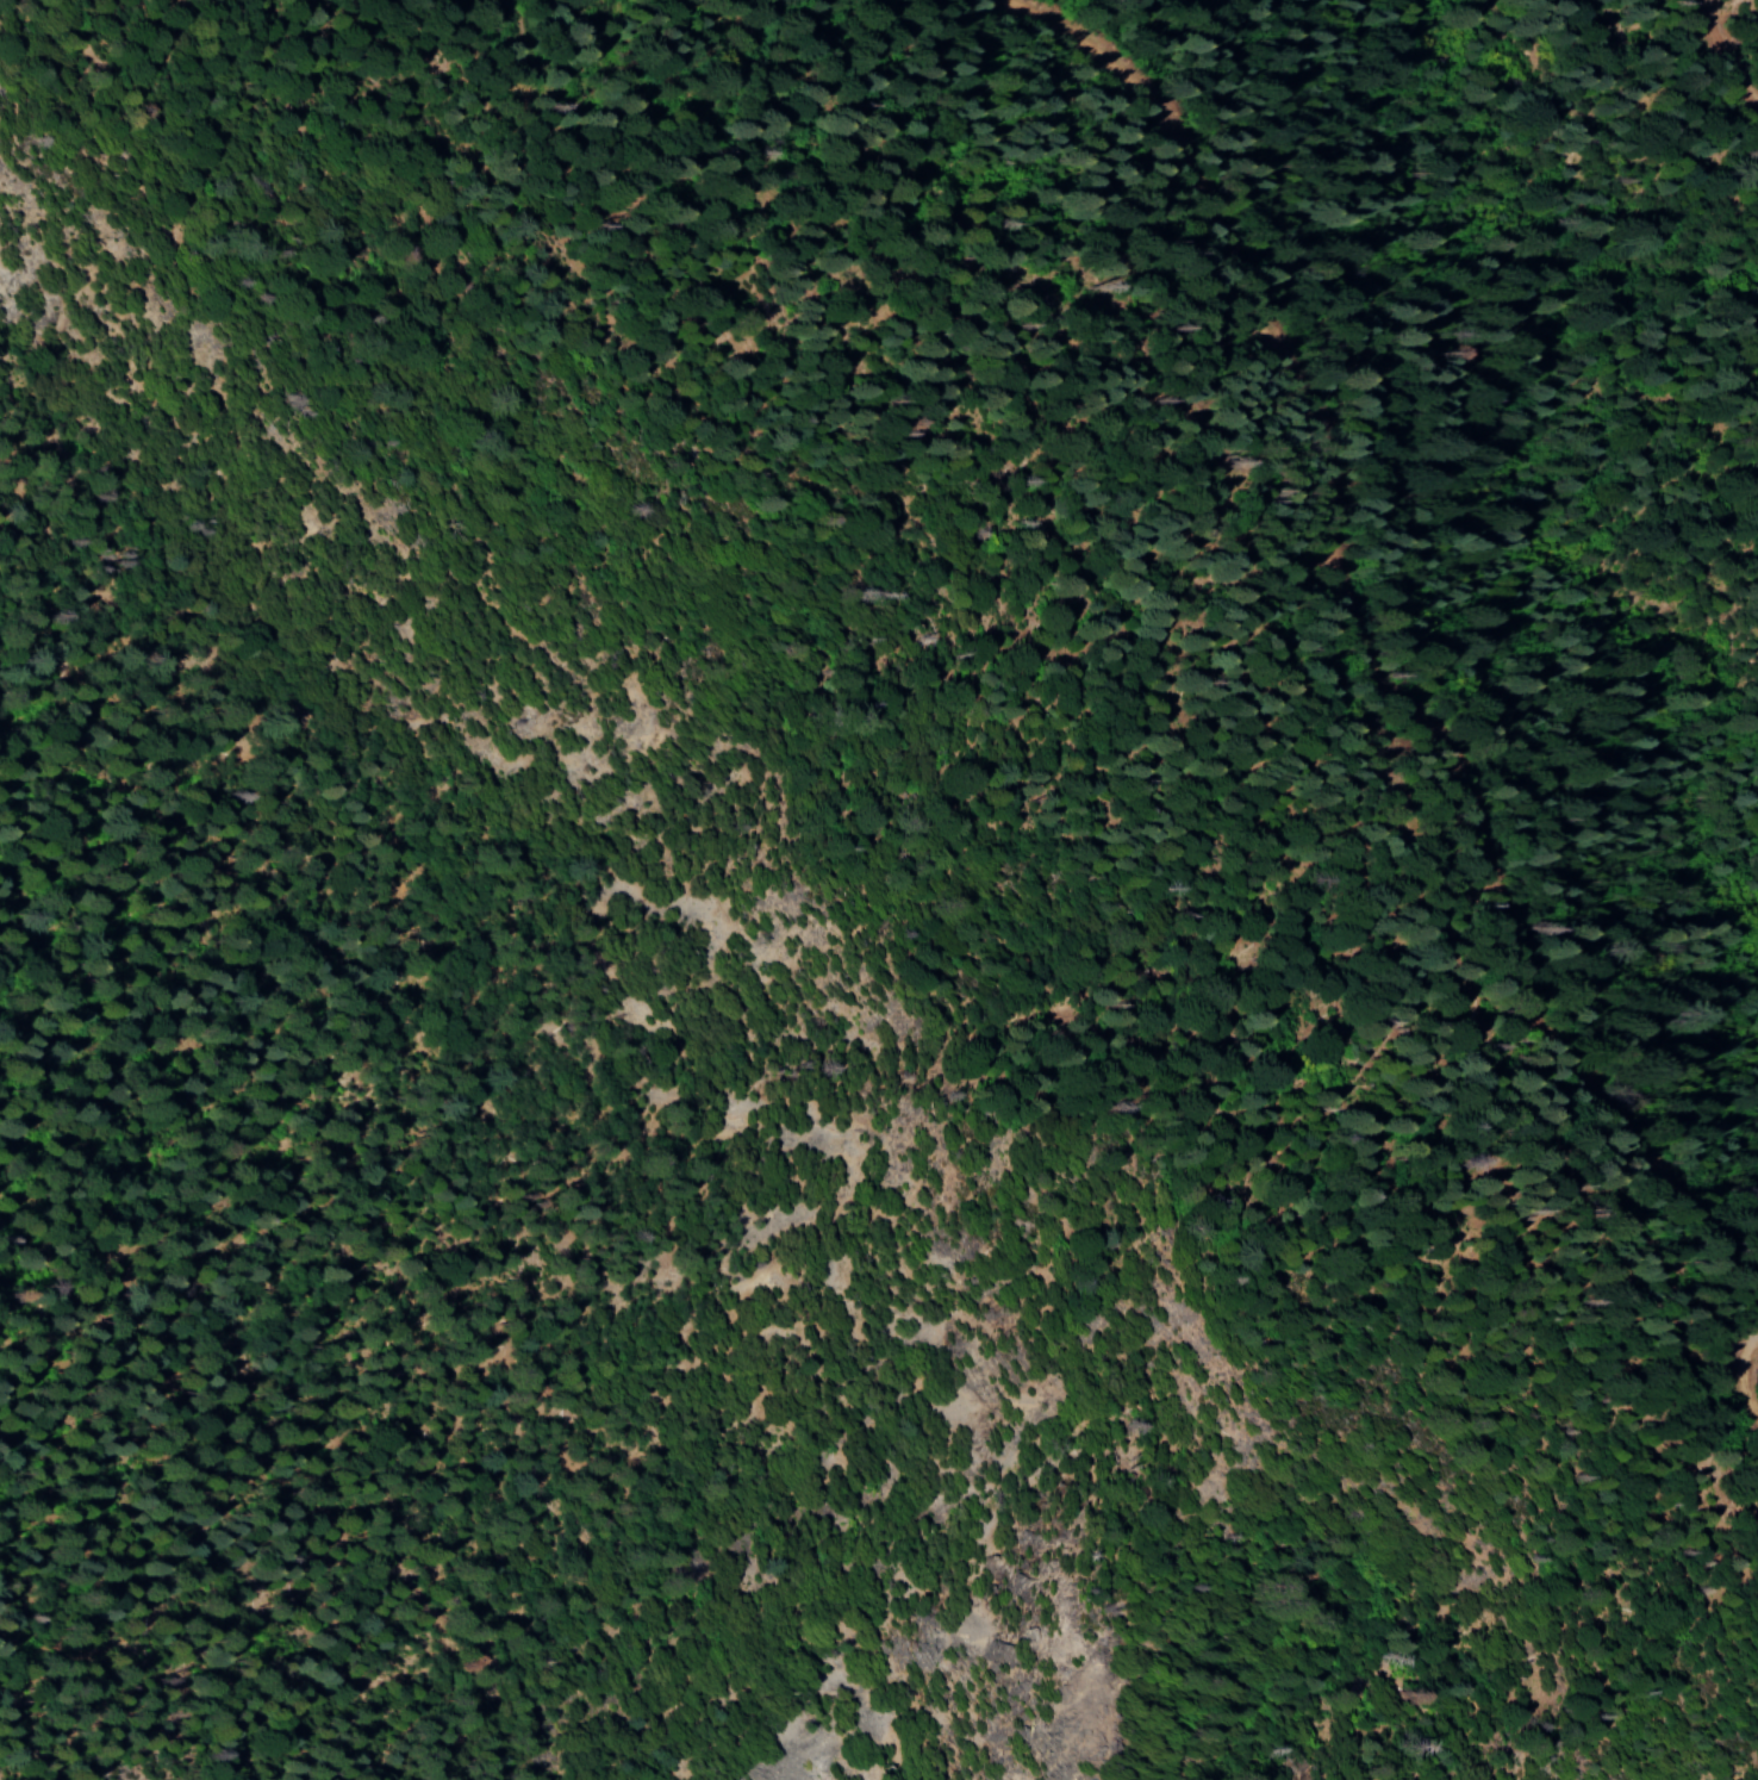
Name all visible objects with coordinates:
road: (1727, 51)
road: (1371, 656)
road: (1728, 1376)

